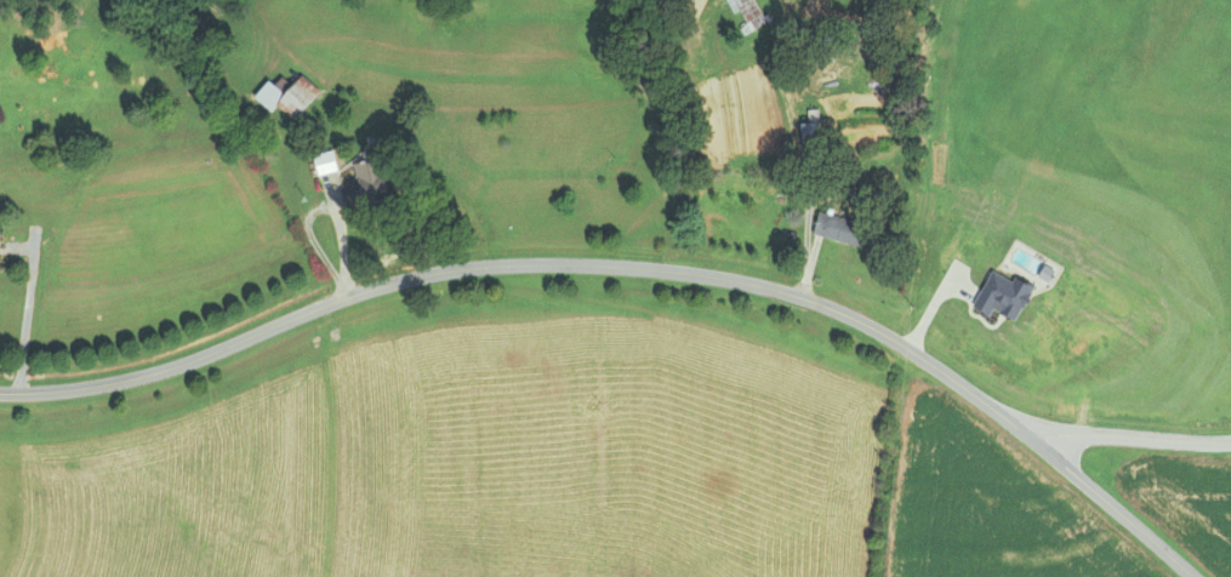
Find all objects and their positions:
building: (737, 13)
building: (281, 97)
building: (802, 126)
building: (318, 161)
building: (358, 184)
building: (830, 228)
road: (525, 263)
road: (28, 308)
road: (1130, 435)
road: (1111, 505)

